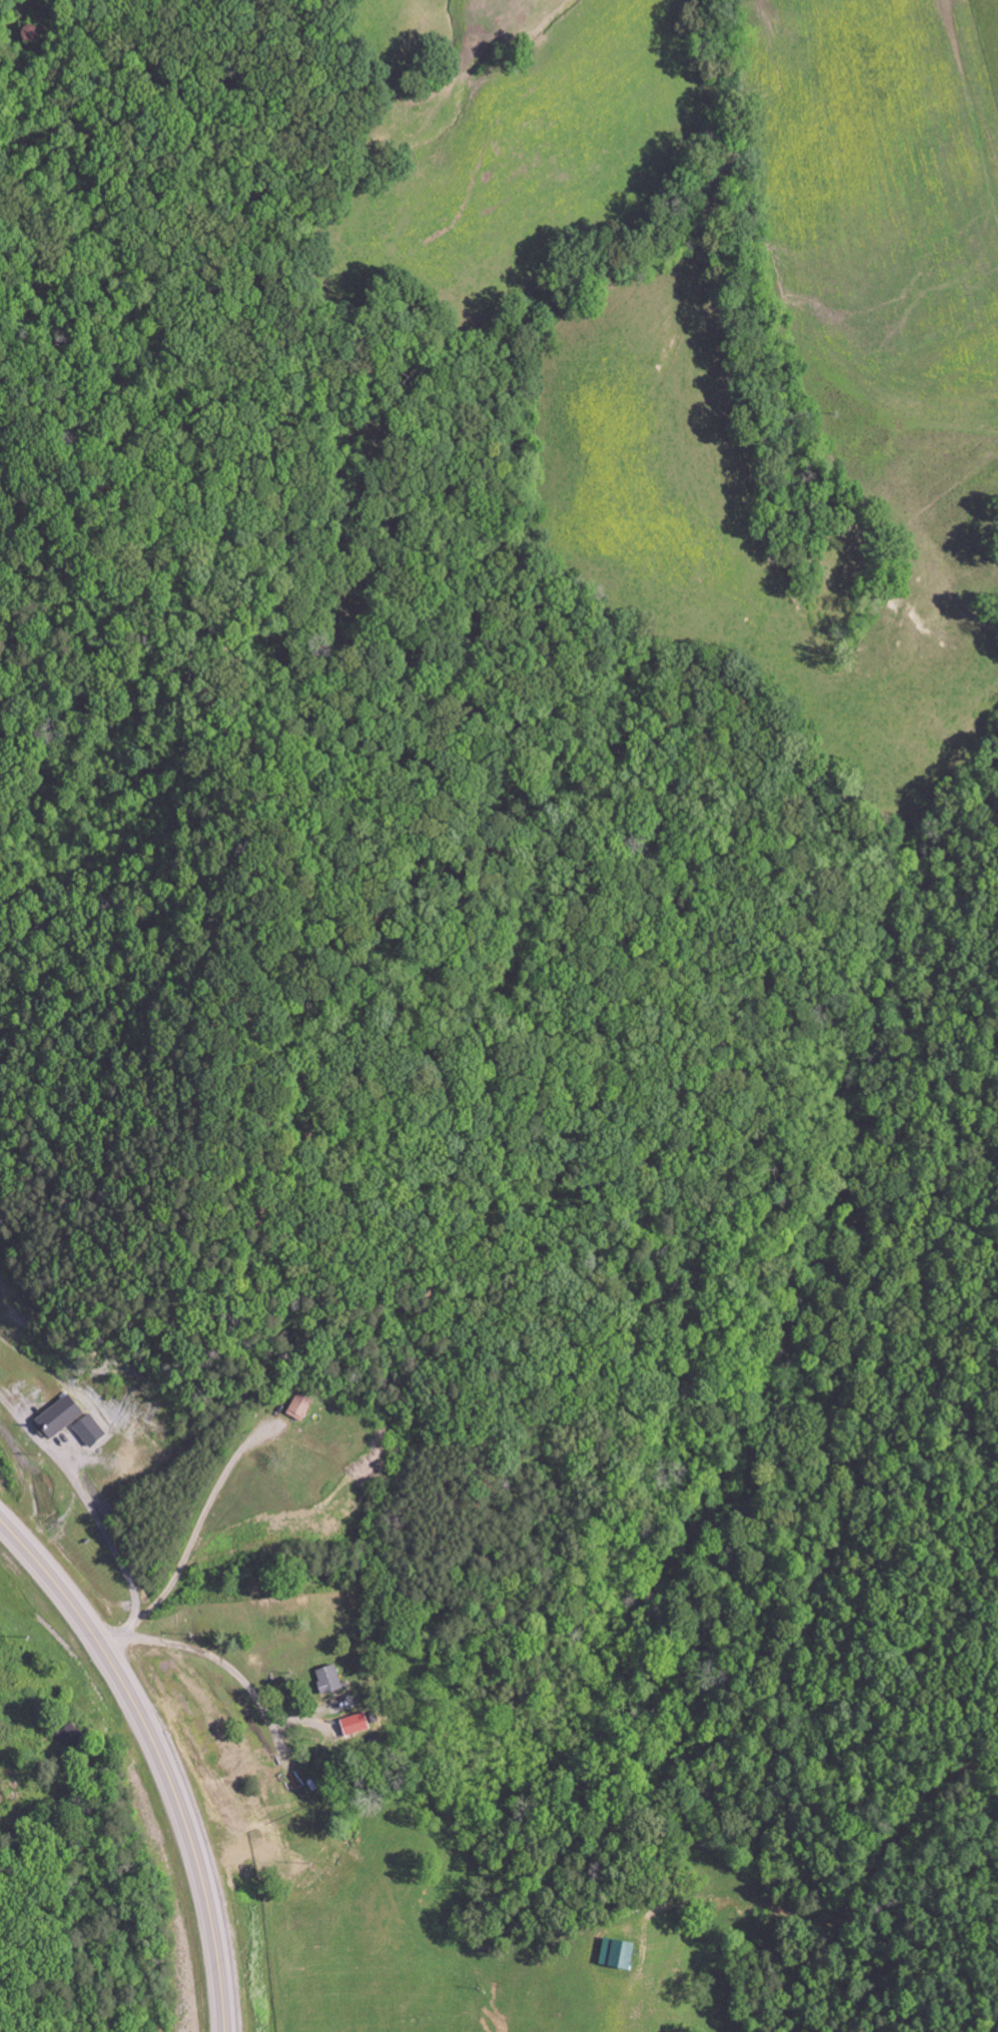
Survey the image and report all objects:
building: (62, 1414)
building: (91, 1428)
building: (332, 1678)
building: (358, 1723)
road: (158, 1756)
building: (621, 1952)

